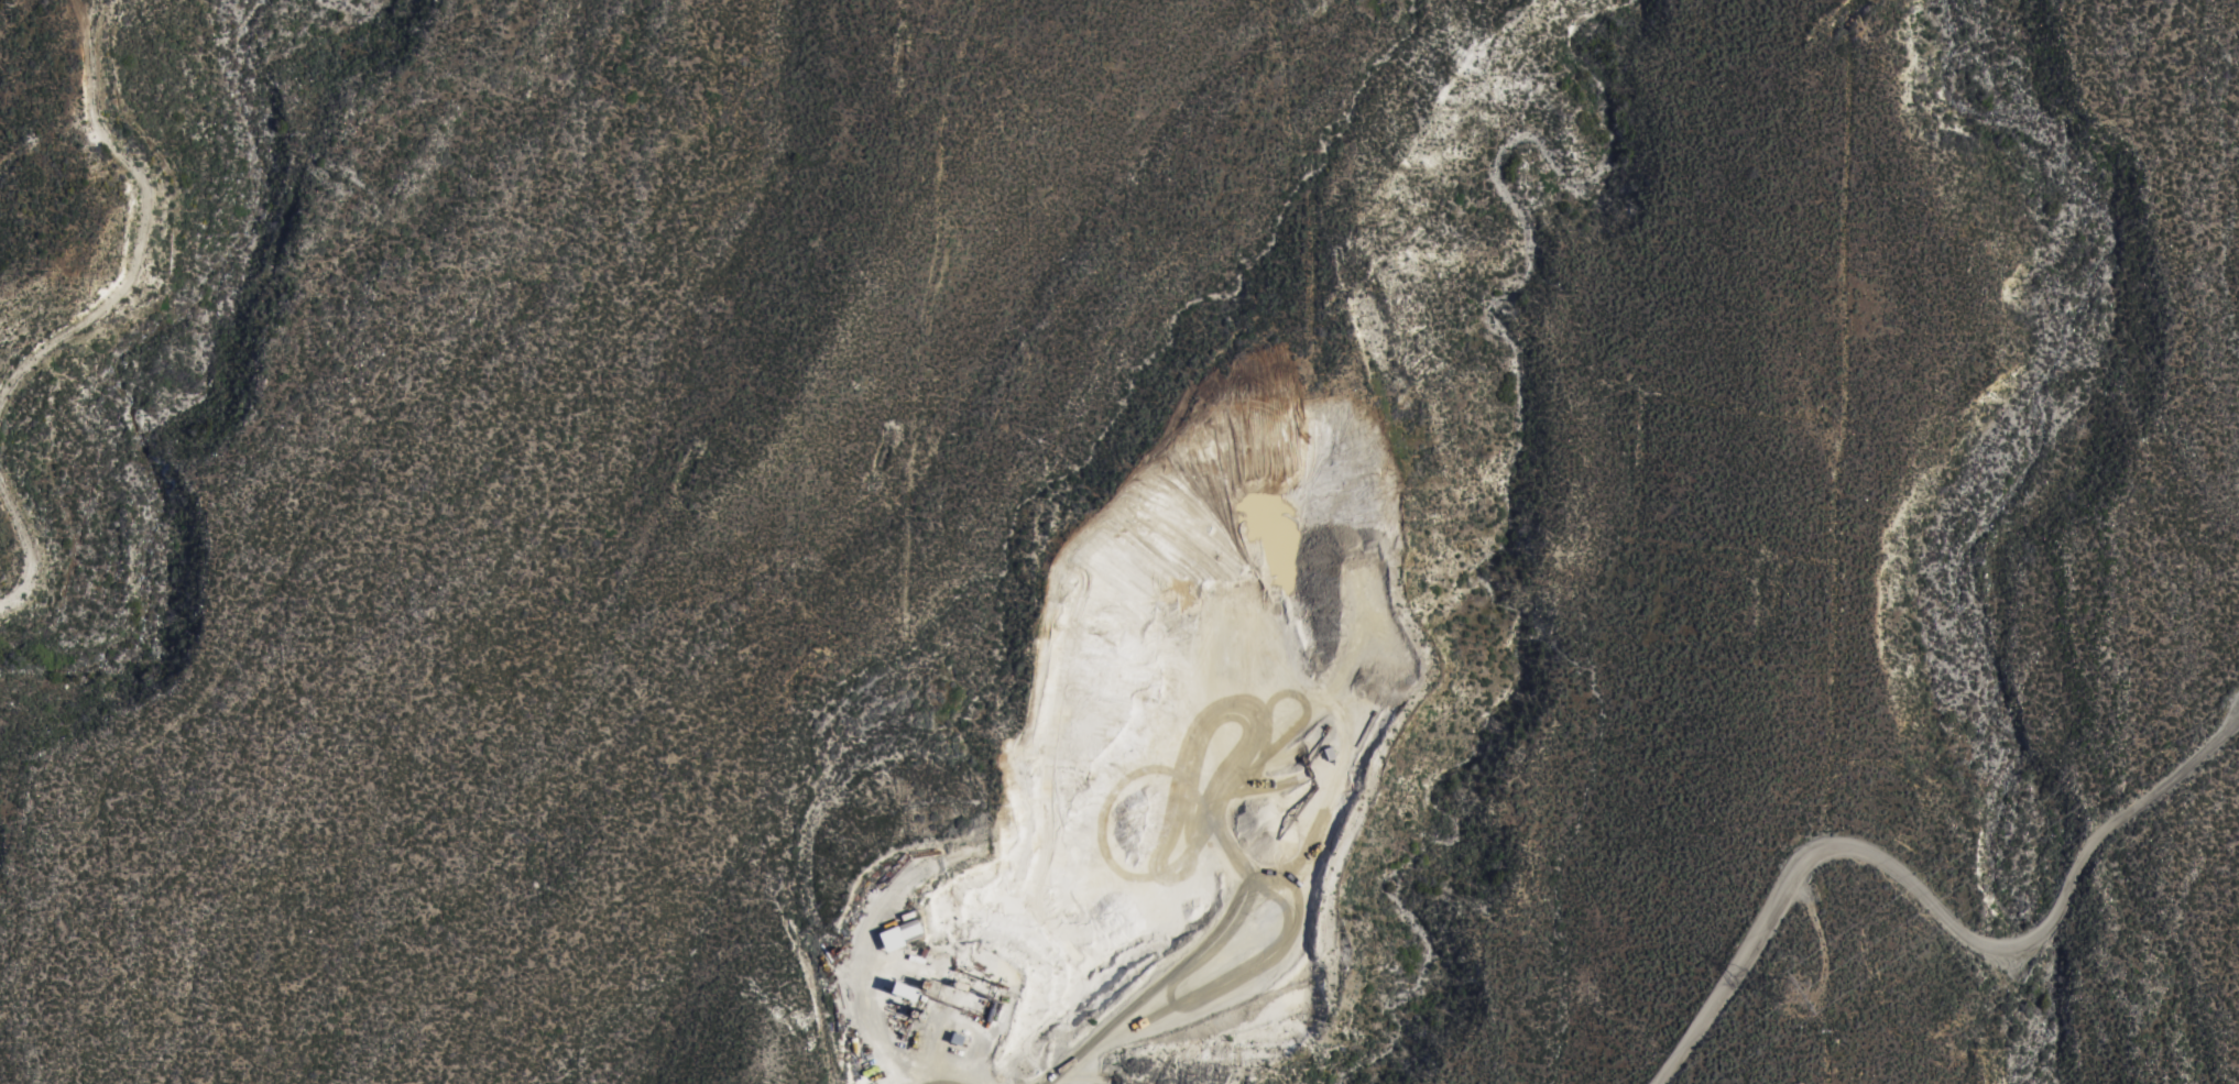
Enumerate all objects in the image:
road: (95, 317)
quarry: (1171, 768)
road: (1932, 906)
road: (1166, 946)
building: (884, 952)
power tower: (1790, 981)
building: (908, 989)
building: (888, 1008)

